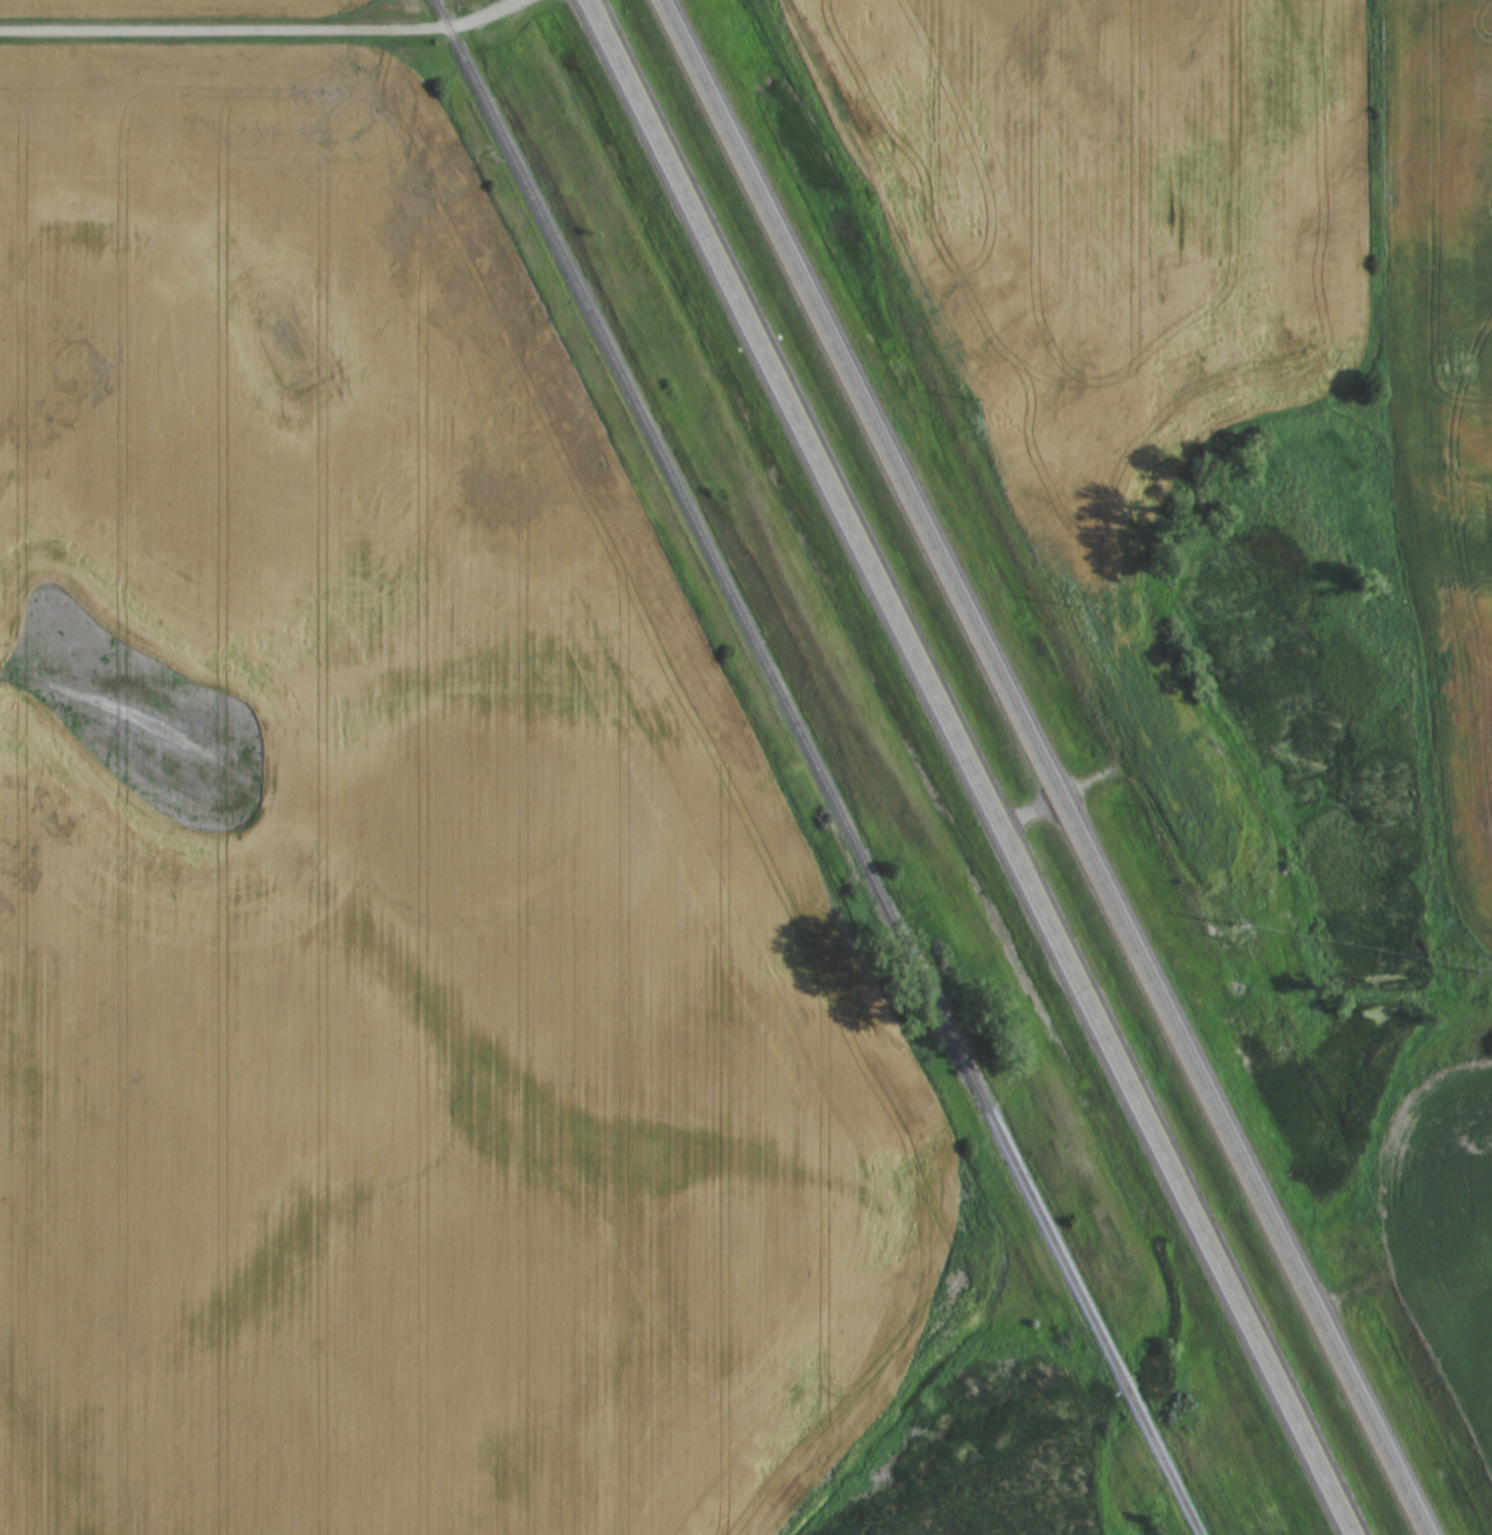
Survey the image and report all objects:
road: (483, 16)
road: (223, 28)
railway: (810, 767)
road: (971, 767)
road: (1047, 767)

